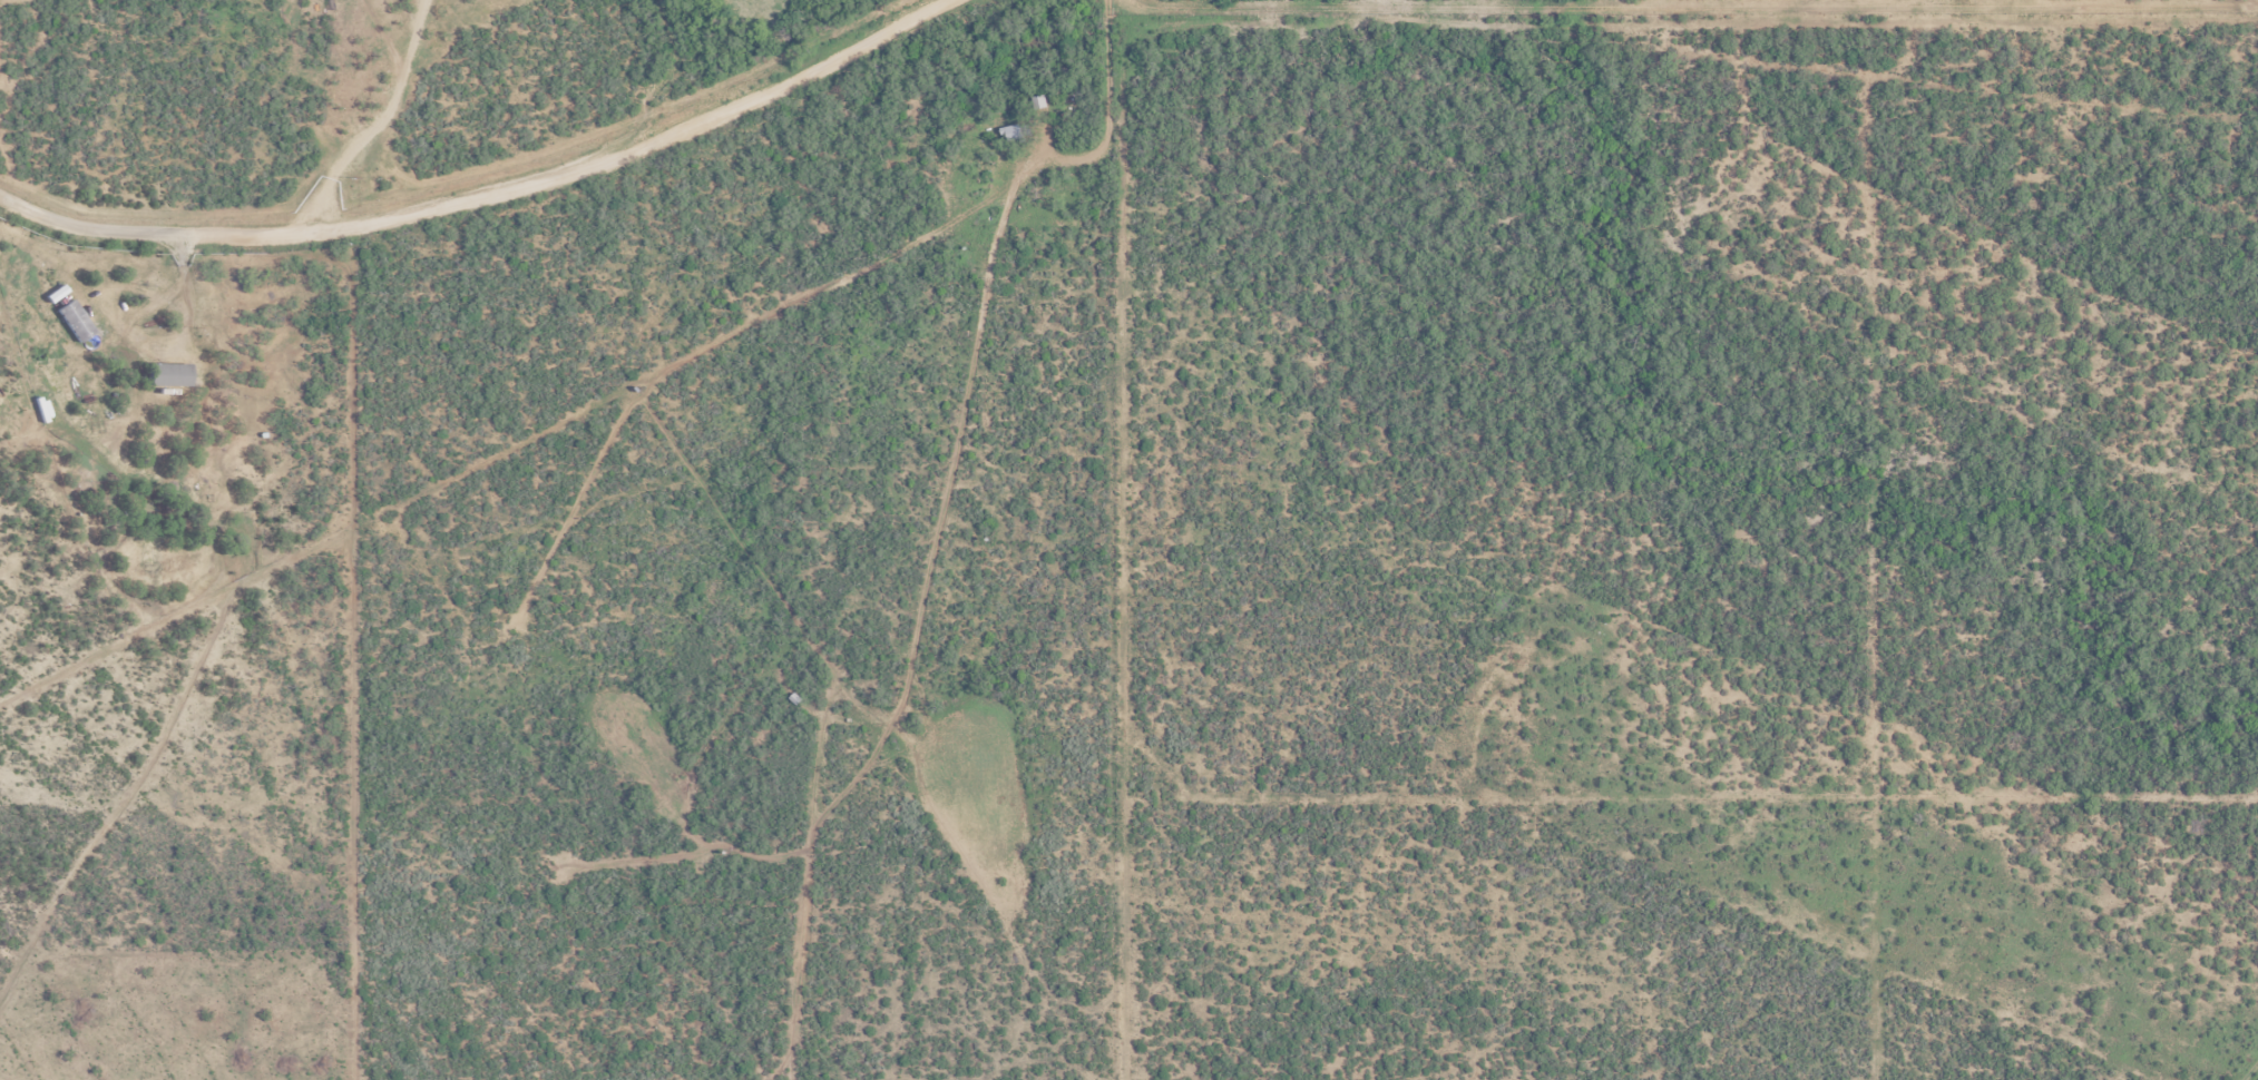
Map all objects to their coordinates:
building: (1036, 101)
building: (1008, 131)
road: (491, 195)
building: (134, 326)
building: (172, 373)

